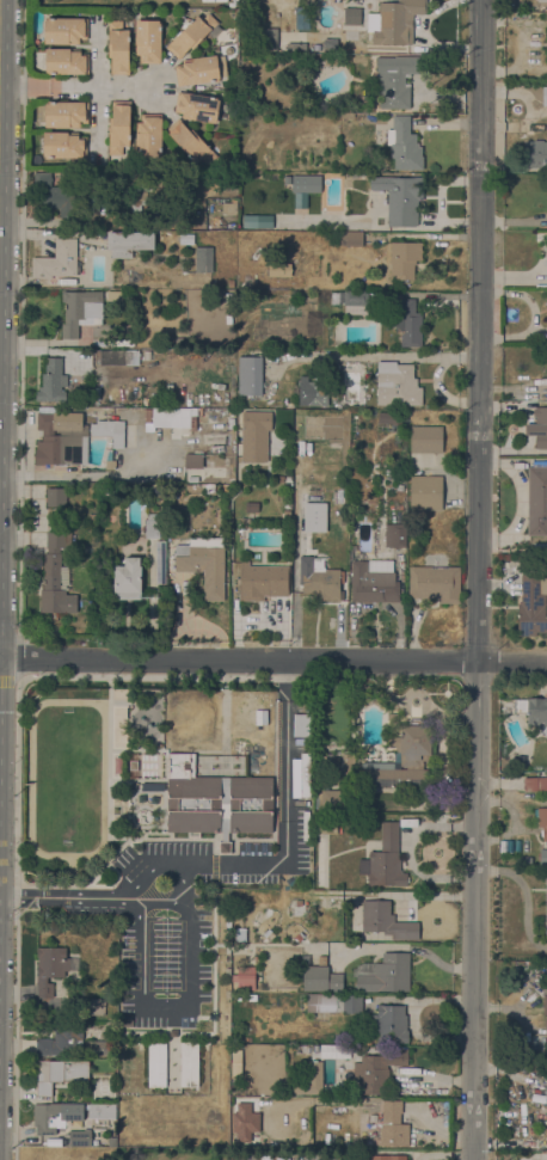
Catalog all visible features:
building: (541, 0)
building: (235, 1)
building: (337, 1)
building: (309, 2)
building: (395, 22)
building: (64, 30)
building: (191, 35)
building: (268, 38)
building: (147, 41)
building: (330, 44)
building: (295, 45)
building: (118, 48)
building: (320, 57)
building: (66, 61)
building: (201, 69)
building: (395, 80)
road: (84, 85)
building: (197, 106)
building: (63, 113)
building: (346, 115)
building: (119, 127)
building: (149, 135)
building: (190, 142)
building: (63, 145)
building: (404, 145)
building: (535, 153)
building: (303, 183)
building: (55, 195)
building: (136, 195)
building: (400, 198)
building: (229, 208)
building: (256, 221)
building: (349, 239)
building: (129, 243)
building: (203, 259)
building: (405, 259)
building: (57, 260)
building: (278, 269)
building: (231, 283)
building: (115, 295)
building: (354, 297)
building: (80, 311)
building: (408, 323)
building: (117, 357)
road: (376, 357)
building: (248, 375)
building: (53, 381)
building: (397, 385)
building: (316, 393)
road: (442, 393)
building: (173, 417)
building: (539, 428)
building: (110, 431)
building: (254, 436)
building: (61, 440)
building: (425, 440)
building: (110, 461)
building: (192, 461)
road: (96, 475)
building: (399, 477)
building: (279, 478)
building: (192, 479)
building: (225, 489)
building: (426, 492)
building: (56, 497)
building: (537, 498)
building: (251, 508)
building: (287, 514)
building: (93, 517)
building: (308, 522)
building: (152, 527)
building: (395, 535)
building: (159, 561)
building: (203, 564)
building: (55, 575)
building: (127, 579)
building: (320, 579)
road: (478, 579)
building: (262, 581)
building: (373, 581)
building: (435, 583)
building: (531, 606)
road: (272, 659)
building: (536, 712)
building: (258, 717)
building: (393, 718)
building: (302, 725)
building: (402, 760)
building: (133, 765)
building: (345, 768)
building: (301, 775)
building: (535, 784)
building: (331, 799)
building: (216, 802)
building: (408, 820)
building: (542, 822)
building: (543, 857)
building: (385, 859)
building: (526, 859)
road: (238, 866)
road: (526, 895)
building: (301, 907)
building: (546, 909)
building: (386, 921)
building: (244, 934)
building: (287, 935)
building: (50, 968)
building: (383, 974)
building: (244, 977)
building: (321, 977)
building: (331, 1002)
building: (97, 1006)
road: (496, 1006)
building: (545, 1017)
building: (128, 1021)
building: (389, 1024)
building: (62, 1041)
building: (97, 1048)
building: (315, 1049)
building: (333, 1050)
building: (235, 1063)
building: (156, 1064)
building: (189, 1064)
building: (377, 1068)
building: (59, 1074)
building: (309, 1080)
building: (102, 1111)
building: (56, 1116)
building: (244, 1122)
building: (393, 1125)
building: (80, 1137)
building: (111, 1141)
building: (386, 1158)

